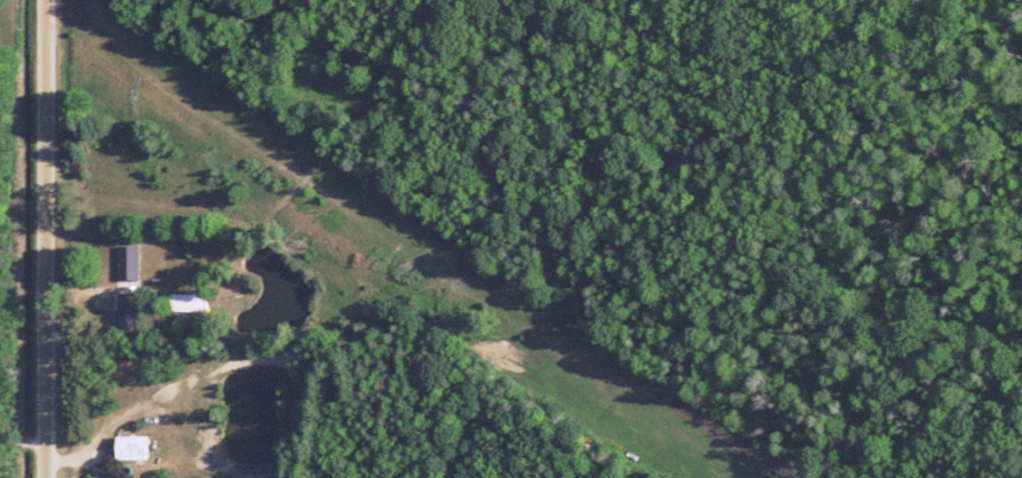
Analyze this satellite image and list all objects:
road: (48, 239)
building: (127, 264)
building: (185, 303)
building: (126, 309)
road: (24, 439)
building: (129, 449)
building: (96, 477)

